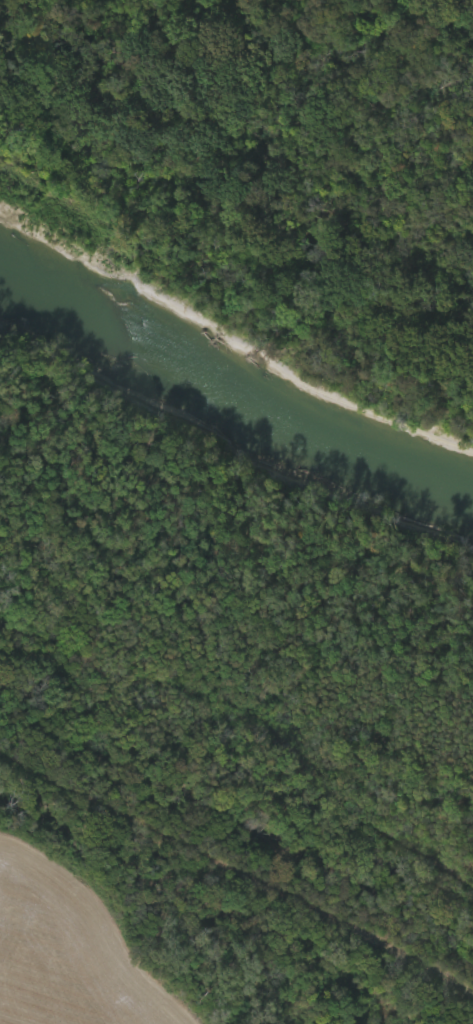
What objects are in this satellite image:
river: (236, 382)
crop: (72, 958)

